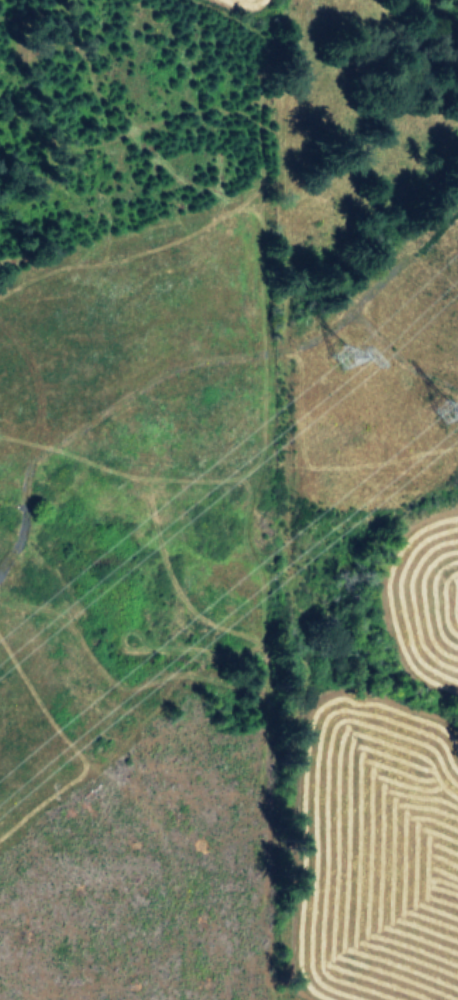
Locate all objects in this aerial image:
crop: (419, 13)
power tower: (347, 352)
power tower: (445, 410)

